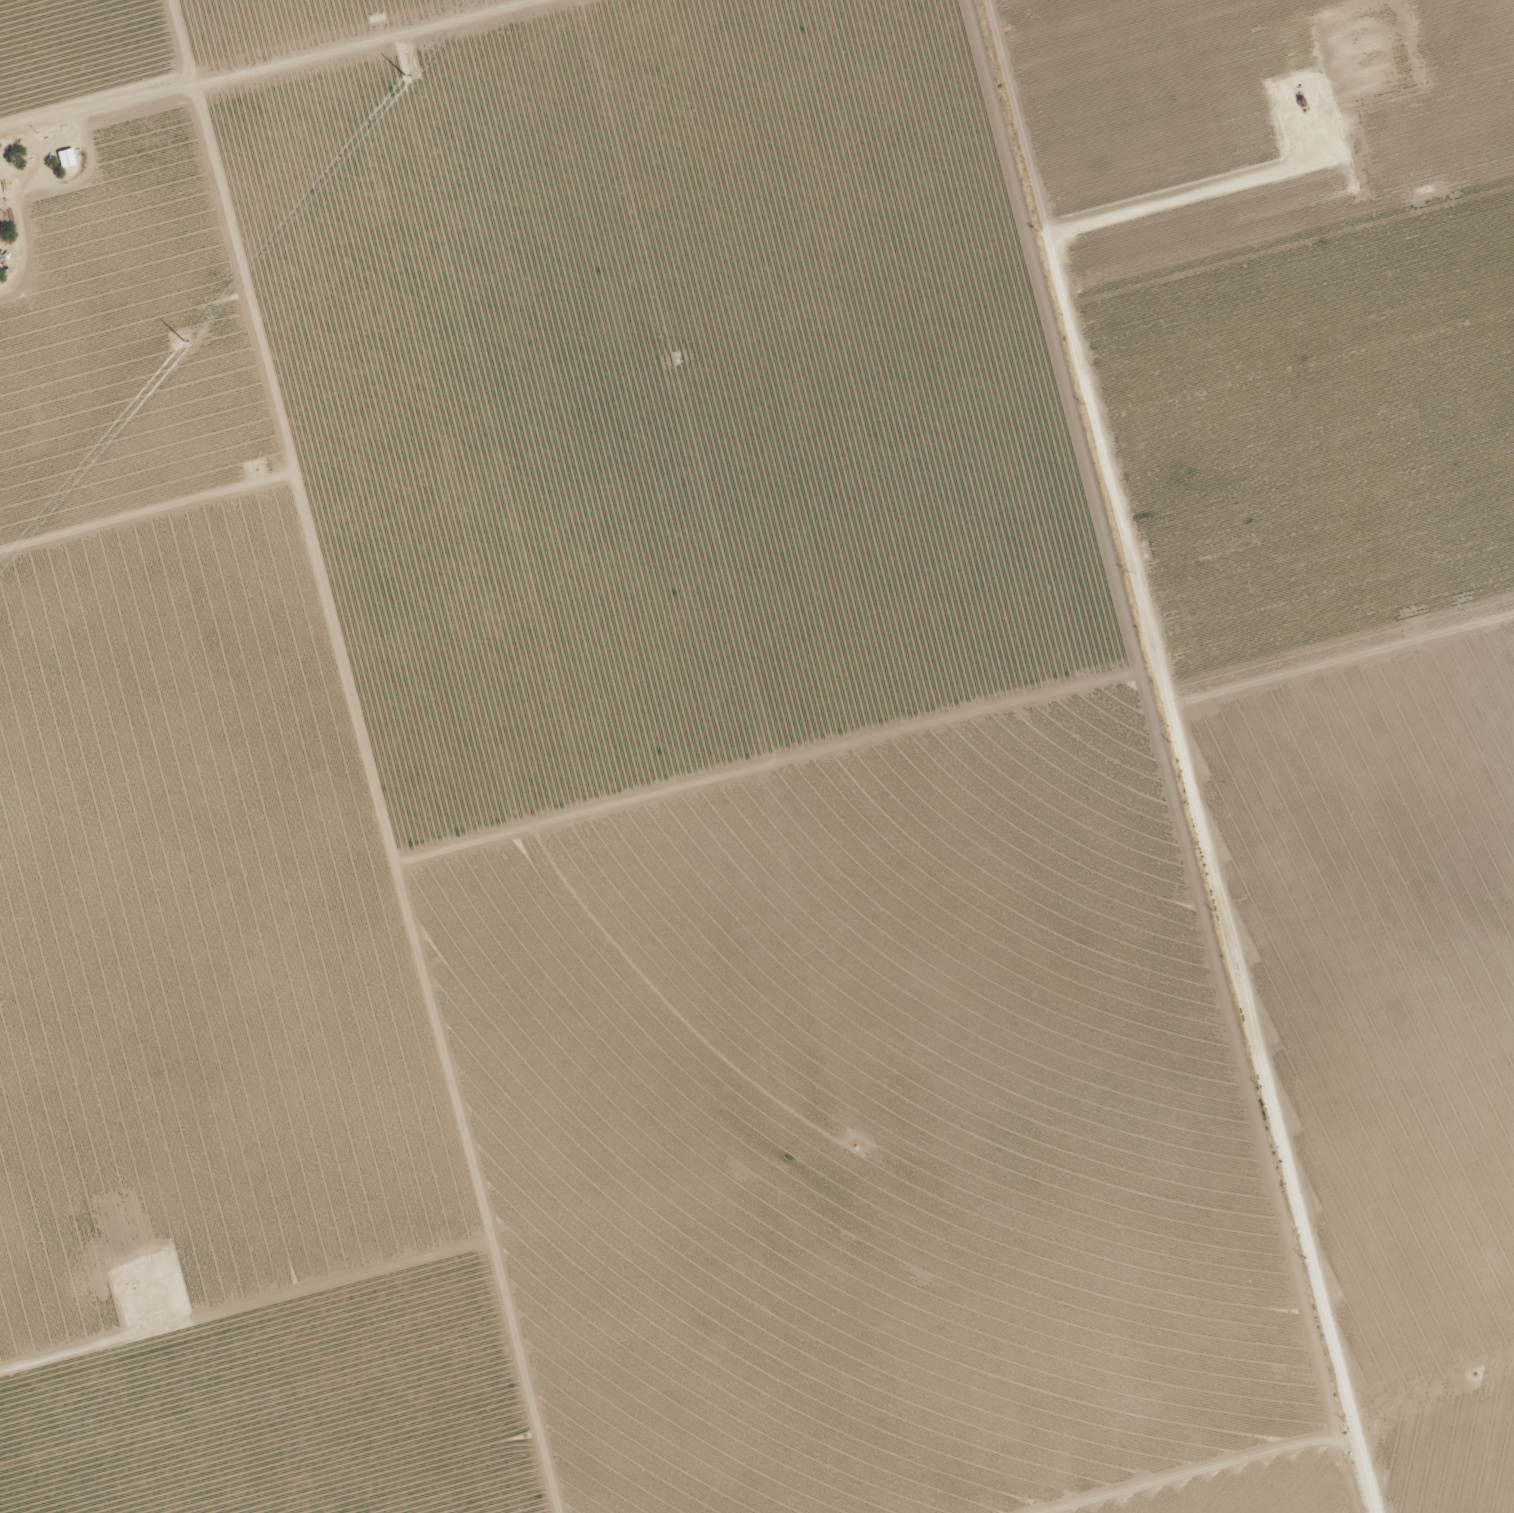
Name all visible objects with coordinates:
power tower: (409, 66)
power tower: (190, 331)

